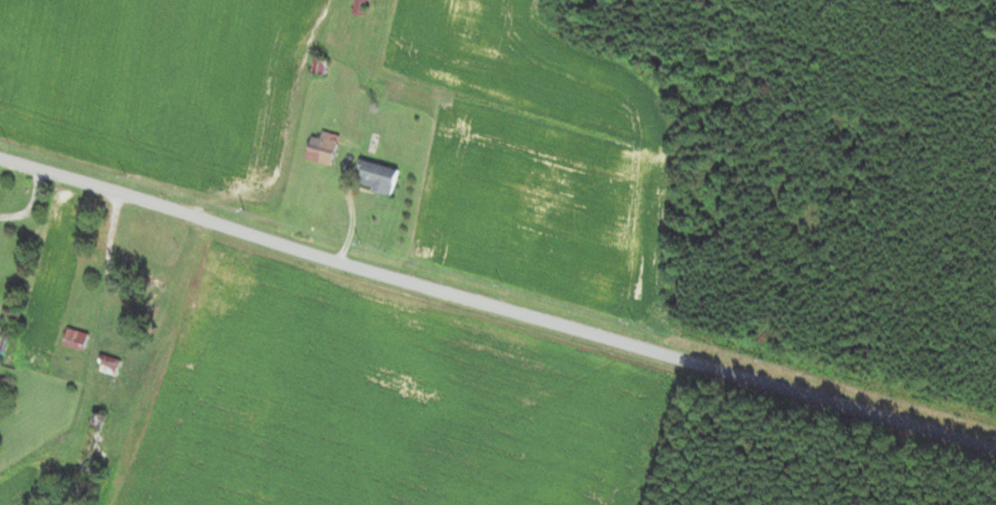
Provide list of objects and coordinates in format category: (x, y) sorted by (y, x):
building: (359, 7)
building: (323, 148)
building: (377, 177)
road: (497, 309)
building: (76, 339)
building: (110, 364)

